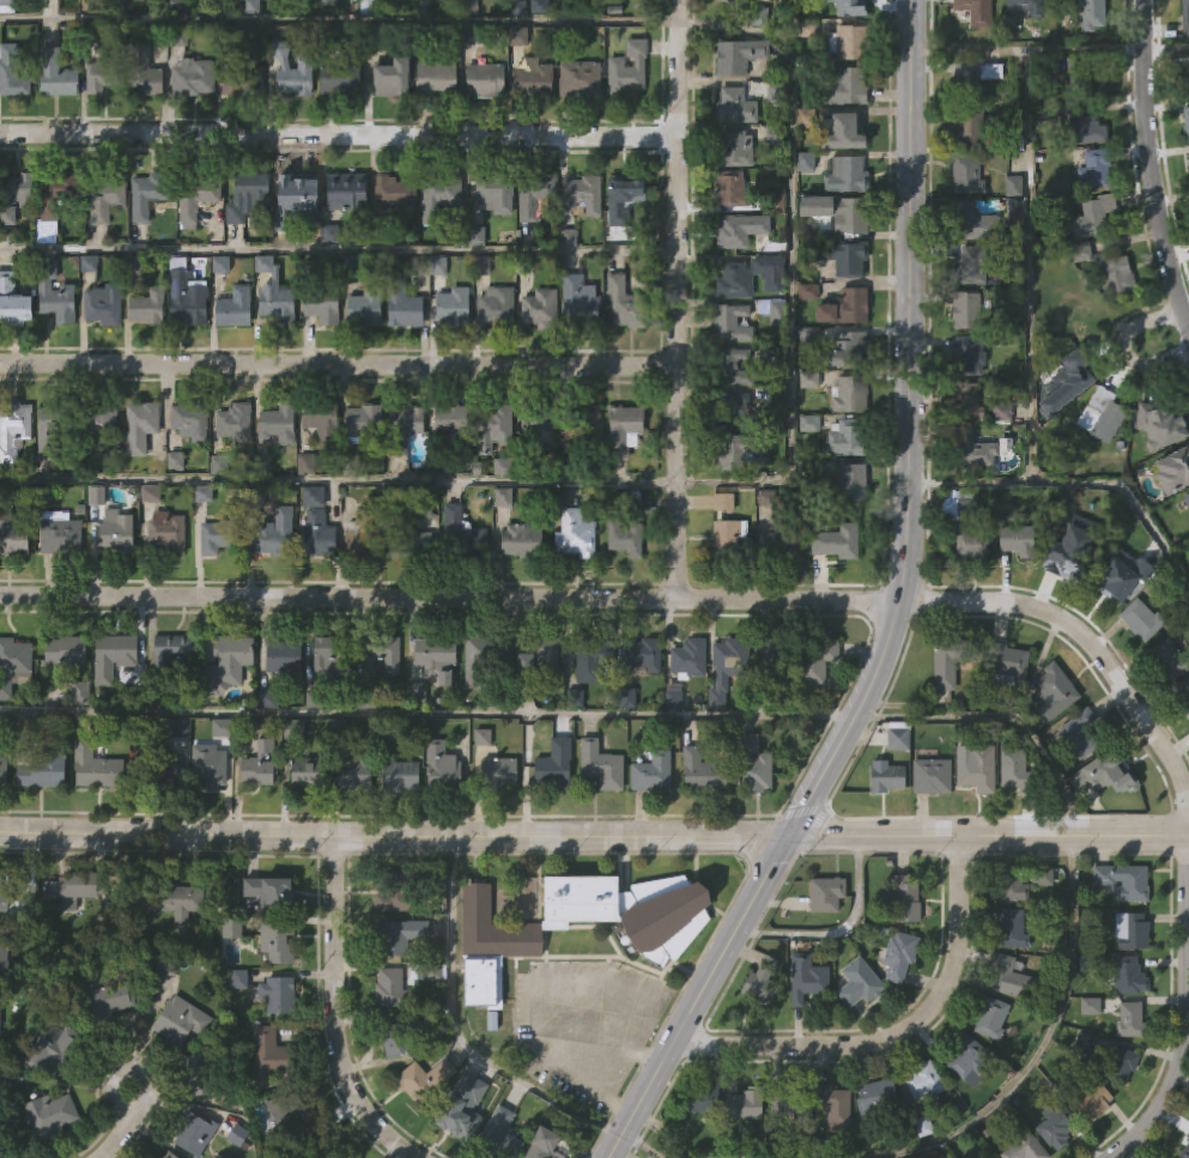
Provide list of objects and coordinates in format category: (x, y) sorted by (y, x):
building: (135, 0)
building: (788, 0)
building: (322, 2)
building: (724, 2)
building: (843, 6)
building: (1024, 7)
building: (975, 12)
building: (1088, 12)
road: (339, 18)
building: (760, 18)
building: (1185, 19)
building: (849, 44)
road: (1026, 46)
road: (1165, 47)
building: (736, 57)
building: (1188, 66)
building: (629, 69)
building: (11, 73)
building: (292, 73)
building: (140, 74)
building: (390, 74)
building: (54, 75)
building: (1081, 75)
building: (97, 78)
building: (190, 78)
building: (338, 78)
building: (971, 78)
building: (433, 79)
building: (530, 79)
building: (578, 79)
building: (241, 81)
building: (483, 81)
building: (1184, 86)
building: (844, 87)
building: (733, 107)
building: (1185, 121)
building: (1087, 127)
building: (842, 131)
building: (969, 131)
road: (338, 137)
building: (733, 150)
road: (1151, 168)
building: (1093, 170)
building: (966, 175)
building: (848, 176)
building: (734, 189)
building: (295, 192)
building: (55, 193)
building: (342, 193)
building: (147, 194)
building: (392, 194)
building: (495, 194)
building: (582, 194)
building: (14, 195)
building: (437, 195)
building: (244, 196)
building: (533, 196)
building: (621, 196)
building: (104, 199)
building: (196, 200)
building: (835, 213)
building: (1093, 217)
building: (970, 222)
building: (739, 230)
road: (338, 249)
building: (839, 256)
road: (1029, 266)
building: (970, 267)
building: (1117, 275)
building: (748, 278)
building: (53, 296)
building: (183, 296)
road: (677, 298)
building: (13, 301)
building: (576, 302)
building: (319, 303)
building: (400, 303)
building: (623, 304)
building: (104, 305)
building: (277, 305)
building: (451, 307)
building: (232, 308)
building: (363, 308)
building: (493, 308)
building: (538, 308)
building: (843, 308)
building: (148, 309)
building: (1070, 309)
building: (965, 311)
building: (730, 325)
road: (1124, 348)
building: (848, 351)
building: (967, 357)
building: (1074, 366)
road: (338, 368)
building: (732, 368)
building: (848, 395)
building: (965, 402)
building: (732, 413)
building: (1100, 416)
building: (449, 420)
building: (188, 422)
building: (323, 422)
building: (540, 422)
building: (235, 423)
building: (362, 424)
building: (582, 424)
building: (275, 425)
building: (50, 426)
building: (809, 426)
building: (95, 428)
building: (139, 428)
building: (492, 428)
building: (1165, 428)
building: (12, 429)
building: (401, 430)
building: (623, 431)
building: (844, 438)
building: (738, 451)
building: (973, 451)
building: (503, 469)
building: (1173, 471)
road: (667, 481)
building: (848, 484)
road: (1072, 486)
building: (204, 496)
building: (504, 499)
building: (1187, 502)
building: (959, 504)
building: (724, 505)
building: (364, 532)
building: (732, 532)
building: (113, 533)
building: (165, 533)
building: (11, 534)
building: (59, 534)
building: (459, 534)
building: (272, 535)
building: (574, 535)
building: (216, 538)
building: (314, 538)
building: (1015, 538)
building: (404, 539)
building: (624, 539)
building: (520, 542)
building: (971, 542)
building: (836, 544)
building: (779, 545)
building: (1072, 551)
building: (1106, 583)
road: (449, 598)
road: (896, 613)
building: (1140, 618)
building: (61, 649)
building: (430, 650)
building: (171, 653)
building: (377, 653)
building: (328, 654)
building: (639, 654)
building: (109, 655)
building: (229, 656)
building: (281, 656)
building: (478, 657)
building: (589, 657)
building: (685, 657)
building: (1167, 657)
building: (812, 659)
building: (948, 659)
building: (11, 661)
building: (532, 662)
building: (1005, 662)
building: (766, 663)
building: (724, 666)
building: (1051, 691)
building: (1184, 691)
building: (171, 698)
building: (62, 699)
building: (472, 702)
building: (638, 703)
building: (377, 704)
building: (764, 704)
building: (533, 705)
building: (110, 707)
building: (324, 707)
building: (685, 708)
building: (280, 709)
building: (433, 709)
road: (426, 710)
building: (12, 713)
road: (1000, 714)
building: (1007, 714)
building: (224, 715)
building: (1167, 715)
building: (583, 717)
building: (722, 717)
building: (940, 720)
building: (338, 728)
building: (386, 729)
building: (1076, 732)
building: (896, 735)
building: (1050, 741)
building: (1184, 744)
building: (623, 747)
building: (669, 748)
building: (556, 759)
building: (91, 763)
building: (204, 764)
building: (259, 764)
building: (597, 764)
building: (750, 764)
building: (973, 765)
building: (1, 766)
building: (37, 766)
building: (438, 766)
building: (1014, 768)
building: (699, 770)
building: (158, 771)
building: (303, 771)
building: (351, 771)
building: (495, 771)
building: (649, 771)
building: (396, 775)
building: (928, 776)
building: (884, 777)
building: (1078, 783)
building: (479, 787)
building: (894, 788)
road: (1183, 798)
building: (552, 811)
building: (751, 813)
building: (256, 814)
building: (599, 814)
building: (206, 816)
building: (92, 817)
building: (972, 817)
building: (1, 818)
building: (1011, 818)
building: (438, 819)
building: (698, 819)
building: (303, 820)
building: (37, 821)
building: (166, 821)
building: (496, 821)
building: (648, 821)
building: (351, 824)
building: (1100, 824)
building: (398, 825)
building: (928, 825)
building: (884, 827)
road: (594, 835)
building: (1018, 880)
building: (1122, 880)
building: (67, 887)
building: (265, 892)
building: (823, 893)
building: (6, 896)
building: (384, 896)
building: (902, 898)
building: (174, 899)
building: (587, 915)
building: (1008, 928)
building: (1129, 930)
road: (841, 932)
building: (395, 936)
building: (69, 939)
building: (274, 942)
building: (823, 944)
building: (8, 947)
building: (181, 953)
building: (897, 956)
building: (629, 959)
building: (423, 971)
building: (1127, 975)
building: (484, 977)
building: (1007, 977)
building: (803, 978)
building: (229, 981)
building: (759, 981)
building: (856, 982)
building: (389, 989)
building: (275, 994)
building: (110, 1005)
building: (894, 1006)
building: (2, 1012)
road: (340, 1015)
building: (988, 1017)
building: (1128, 1020)
building: (171, 1021)
building: (418, 1023)
building: (803, 1027)
building: (1006, 1027)
building: (236, 1029)
road: (459, 1030)
building: (855, 1032)
road: (896, 1033)
building: (756, 1037)
building: (390, 1038)
road: (1044, 1039)
building: (54, 1050)
building: (107, 1050)
building: (268, 1053)
building: (964, 1055)
building: (1086, 1055)
building: (1122, 1063)
building: (988, 1067)
building: (194, 1073)
building: (419, 1079)
building: (922, 1084)
building: (394, 1095)
building: (873, 1097)
building: (700, 1098)
building: (784, 1101)
building: (267, 1102)
building: (1090, 1102)
building: (744, 1104)
building: (830, 1104)
building: (457, 1107)
building: (5, 1109)
building: (297, 1109)
building: (965, 1110)
building: (54, 1114)
building: (1118, 1114)
road: (123, 1126)
building: (1054, 1126)
building: (419, 1128)
building: (192, 1129)
building: (920, 1130)
building: (238, 1133)
building: (497, 1135)
building: (462, 1141)
building: (545, 1144)
building: (874, 1144)
road: (647, 1146)
building: (699, 1146)
building: (826, 1146)
building: (1023, 1147)
building: (1091, 1147)
building: (741, 1148)
building: (1182, 1148)
building: (49, 1152)
building: (779, 1152)
building: (163, 1153)
building: (1052, 1154)
building: (342, 1157)

